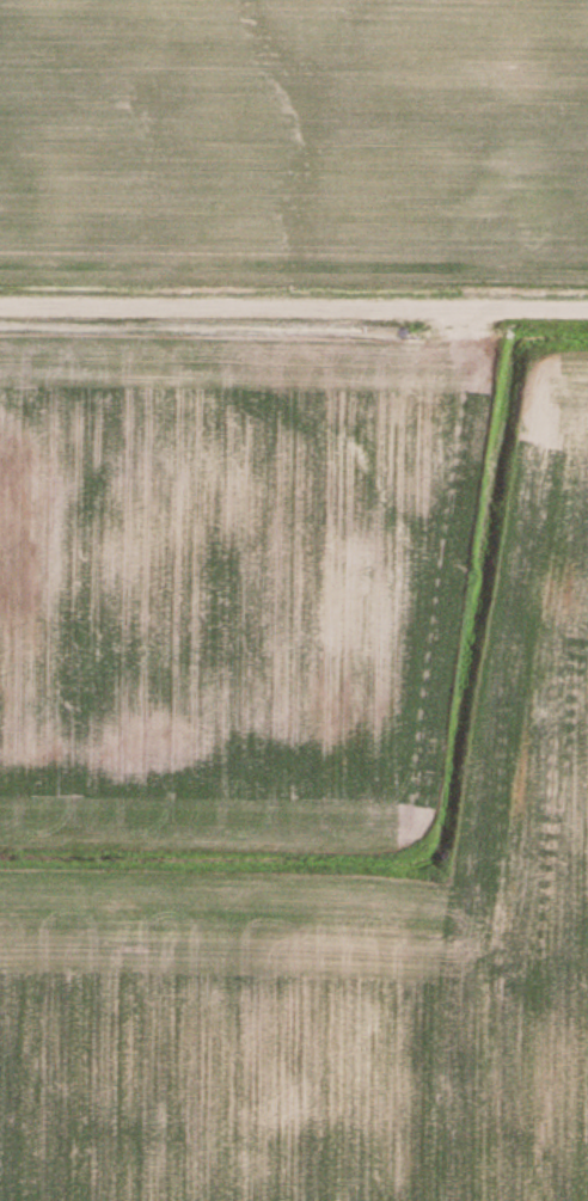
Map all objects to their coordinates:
road: (294, 308)

